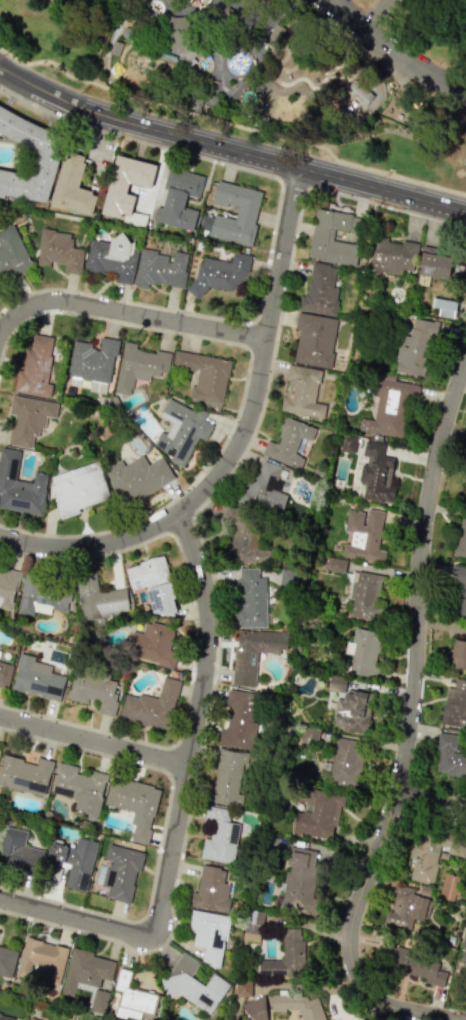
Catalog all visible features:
building: (255, 8)
building: (227, 10)
road: (376, 14)
building: (231, 18)
road: (367, 30)
building: (125, 31)
building: (177, 31)
building: (275, 35)
road: (347, 35)
building: (115, 46)
road: (216, 48)
building: (167, 54)
road: (12, 55)
building: (287, 61)
railway: (351, 62)
theme park: (242, 64)
building: (116, 68)
park: (272, 71)
road: (433, 76)
railway: (106, 77)
raceway: (294, 79)
railway: (132, 85)
building: (359, 92)
building: (192, 103)
road: (171, 108)
building: (264, 117)
railway: (247, 119)
building: (308, 131)
railway: (308, 131)
road: (229, 148)
parking lot: (91, 153)
building: (48, 159)
road: (393, 173)
building: (72, 184)
building: (126, 184)
building: (180, 198)
building: (248, 210)
road: (271, 234)
building: (322, 236)
building: (59, 250)
building: (11, 254)
building: (390, 256)
building: (113, 258)
building: (434, 263)
building: (160, 268)
building: (219, 273)
building: (320, 290)
building: (444, 307)
road: (127, 311)
building: (314, 339)
building: (415, 346)
building: (92, 359)
building: (139, 366)
building: (35, 368)
building: (205, 375)
road: (242, 388)
building: (303, 392)
building: (390, 407)
building: (29, 418)
building: (183, 430)
road: (238, 439)
building: (288, 442)
building: (348, 444)
building: (376, 475)
building: (137, 477)
building: (21, 486)
building: (264, 489)
building: (79, 490)
building: (465, 490)
building: (242, 535)
building: (364, 535)
building: (460, 538)
road: (382, 570)
building: (291, 578)
building: (153, 584)
building: (8, 587)
building: (363, 594)
building: (43, 598)
building: (98, 598)
building: (250, 599)
building: (462, 599)
building: (153, 645)
building: (0, 651)
building: (363, 651)
building: (254, 652)
building: (458, 654)
building: (5, 673)
building: (38, 678)
building: (336, 684)
building: (94, 690)
building: (455, 704)
building: (151, 706)
building: (353, 712)
building: (239, 720)
road: (409, 722)
road: (97, 742)
building: (0, 750)
building: (450, 756)
building: (345, 761)
building: (25, 774)
building: (227, 776)
building: (80, 788)
road: (430, 802)
building: (134, 804)
road: (186, 804)
building: (318, 816)
building: (0, 825)
building: (218, 836)
building: (456, 849)
building: (18, 851)
building: (424, 857)
building: (76, 861)
building: (121, 872)
building: (299, 883)
building: (449, 886)
building: (211, 889)
building: (405, 907)
building: (252, 929)
building: (209, 935)
building: (285, 957)
building: (42, 959)
building: (7, 961)
building: (463, 963)
building: (416, 966)
building: (88, 977)
building: (194, 985)
building: (243, 989)
building: (132, 998)
building: (300, 1005)
building: (257, 1009)
building: (6, 1017)
building: (31, 1019)

